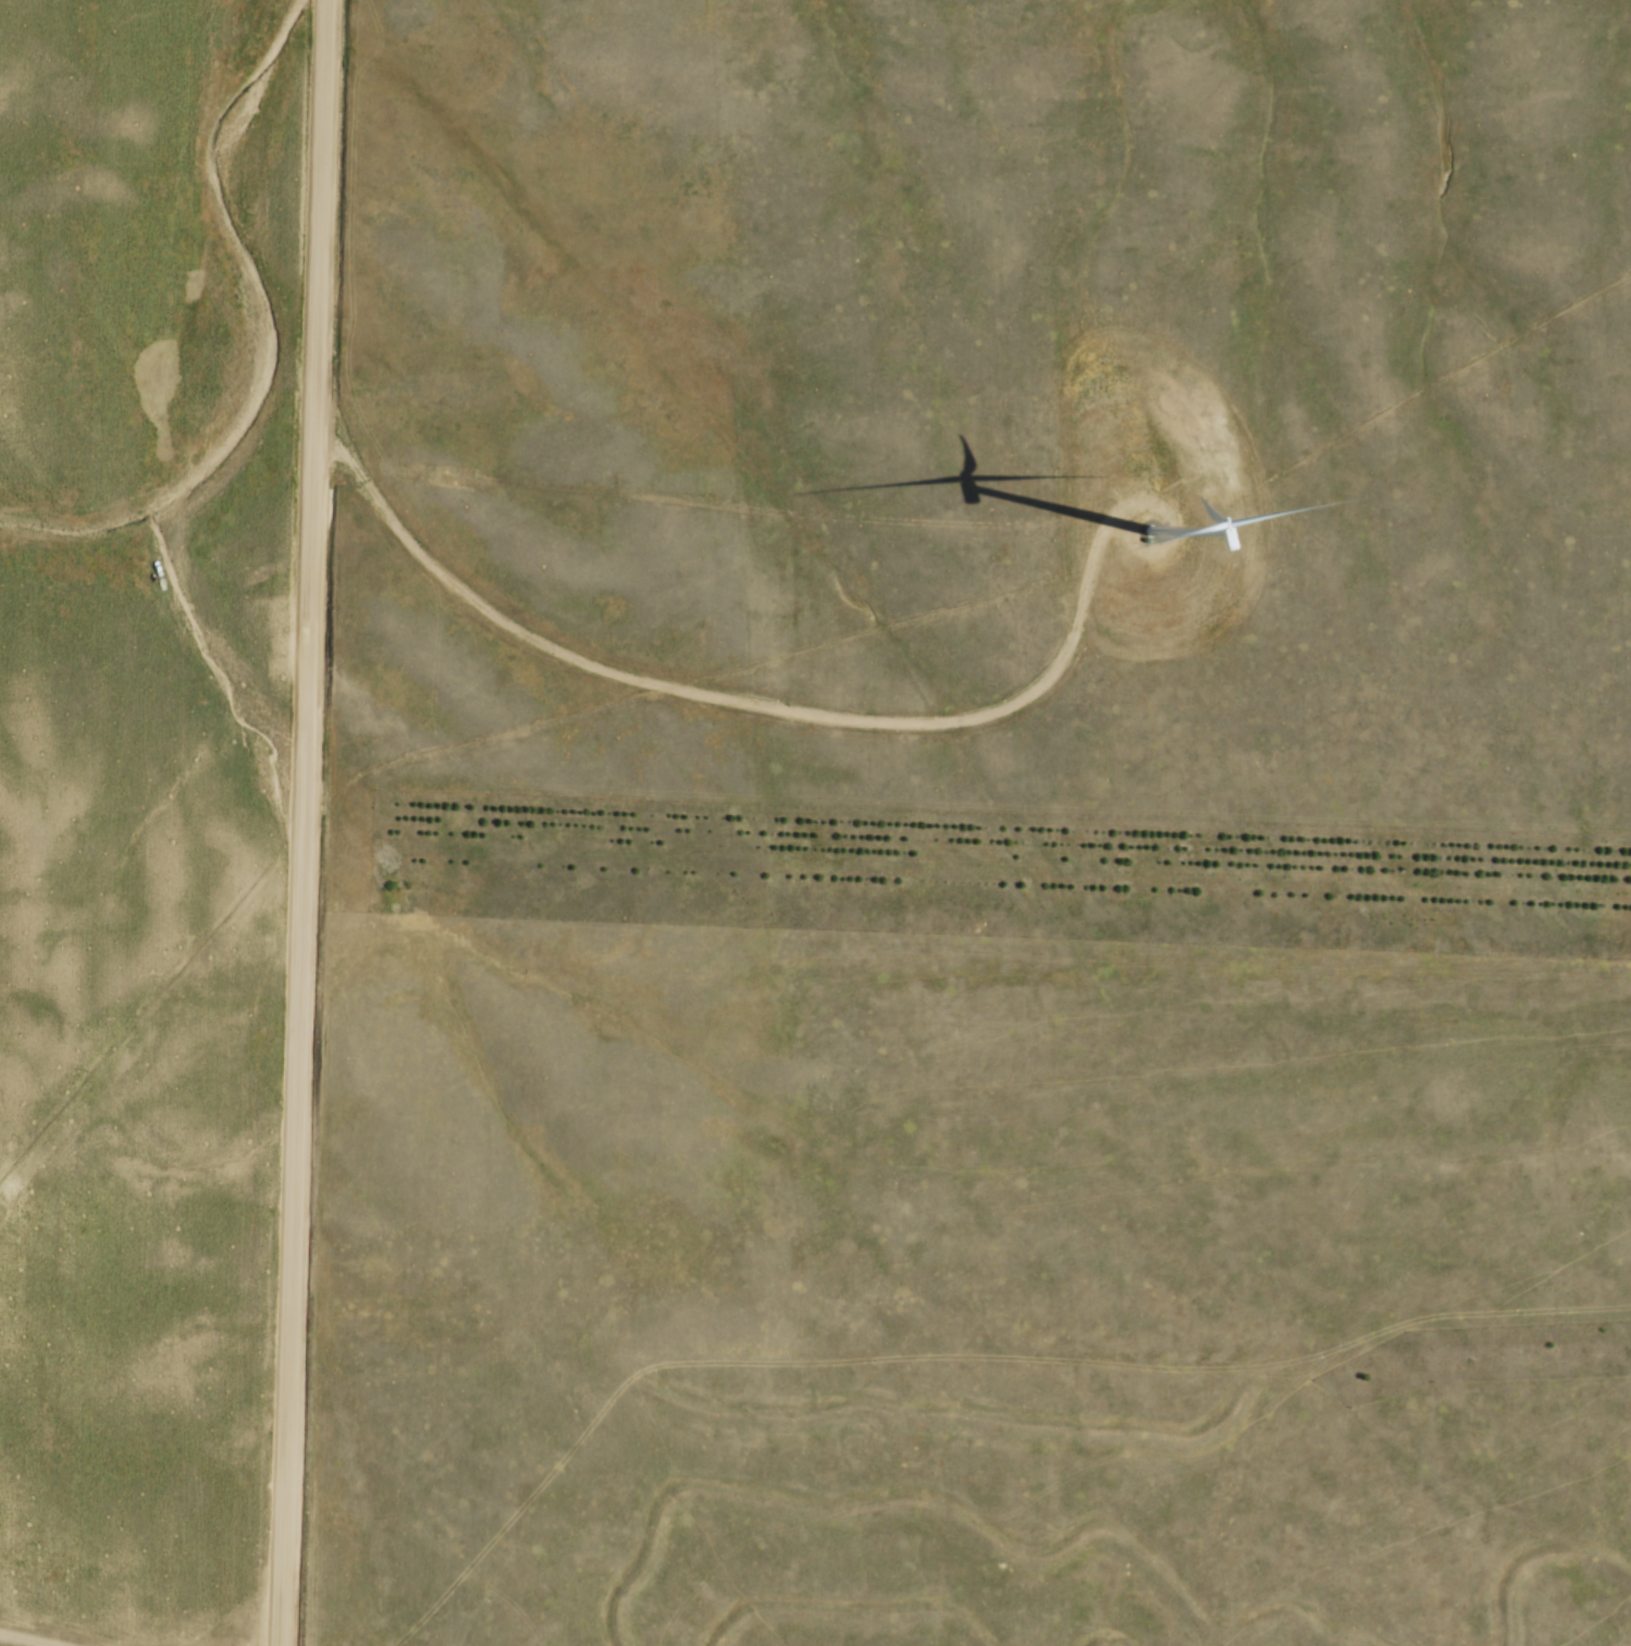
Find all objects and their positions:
wind turbine: (1153, 524)
road: (675, 681)
road: (307, 822)
road: (41, 1636)

